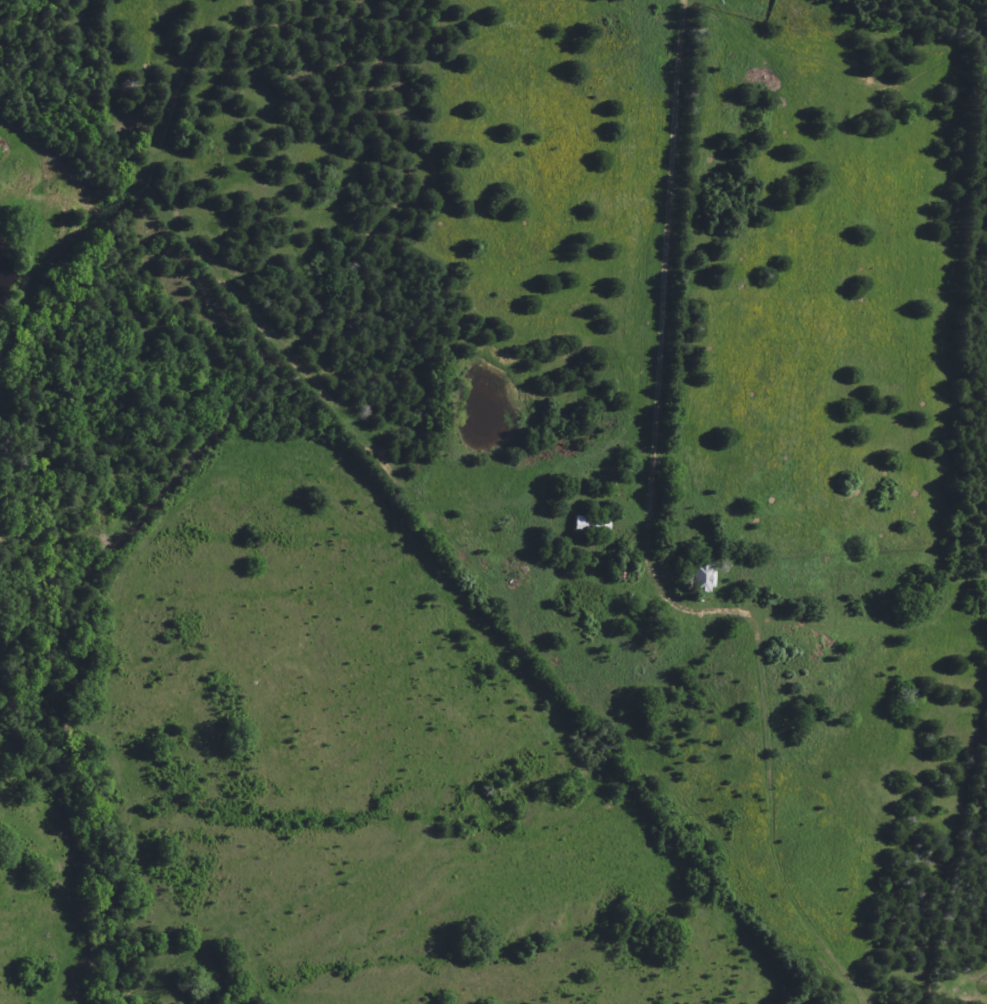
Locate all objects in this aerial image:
building: (585, 528)
road: (643, 544)
building: (694, 580)

